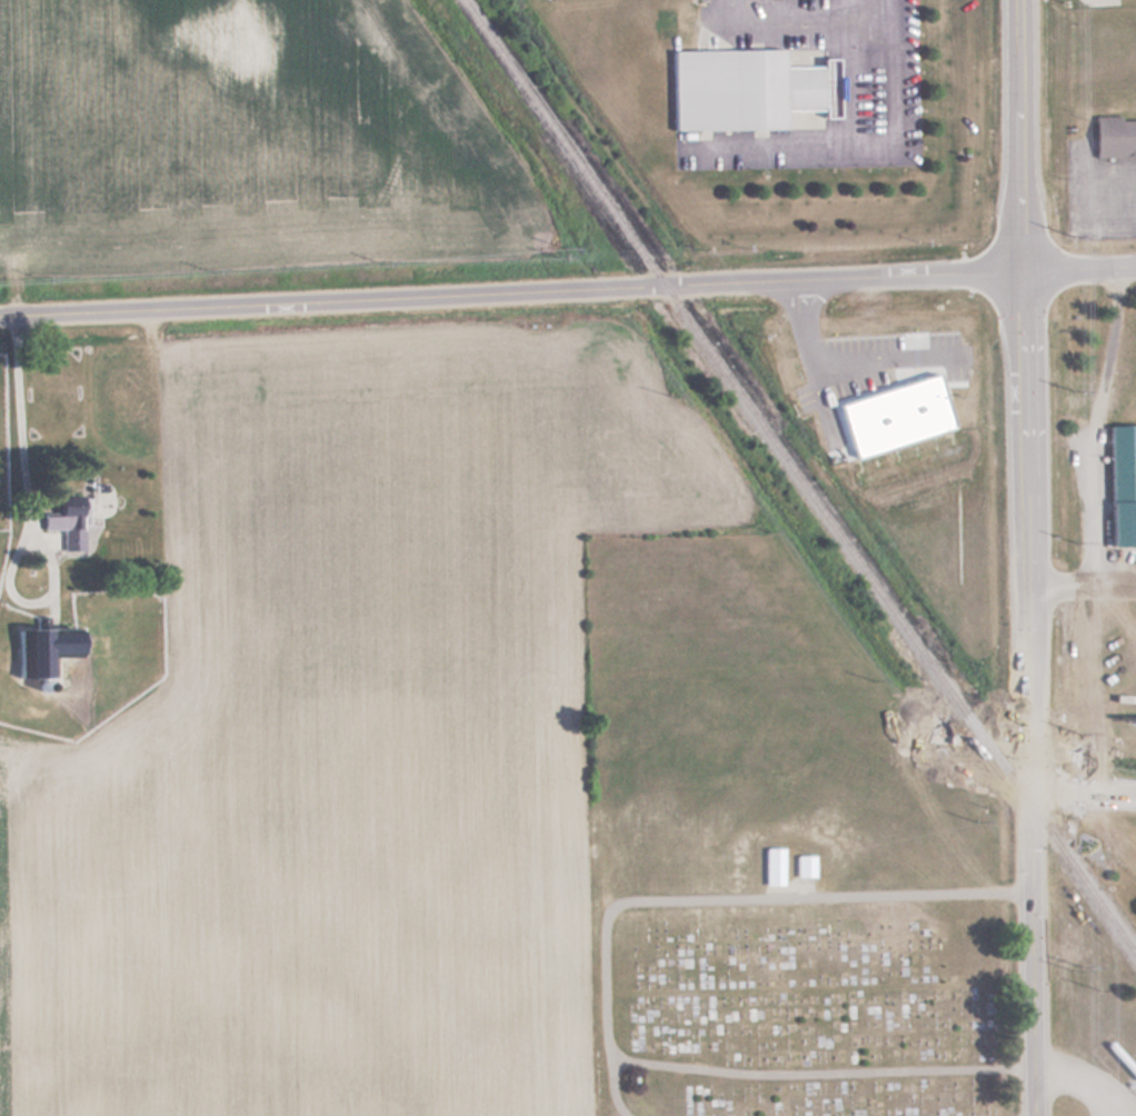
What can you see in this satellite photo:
road: (743, 10)
building: (739, 86)
building: (1114, 137)
road: (1080, 268)
road: (512, 292)
railway: (801, 477)
building: (1120, 485)
building: (64, 519)
road: (1028, 557)
building: (39, 649)
building: (1128, 718)
building: (774, 865)
building: (805, 865)
road: (607, 980)
park: (798, 998)
road: (617, 1090)

